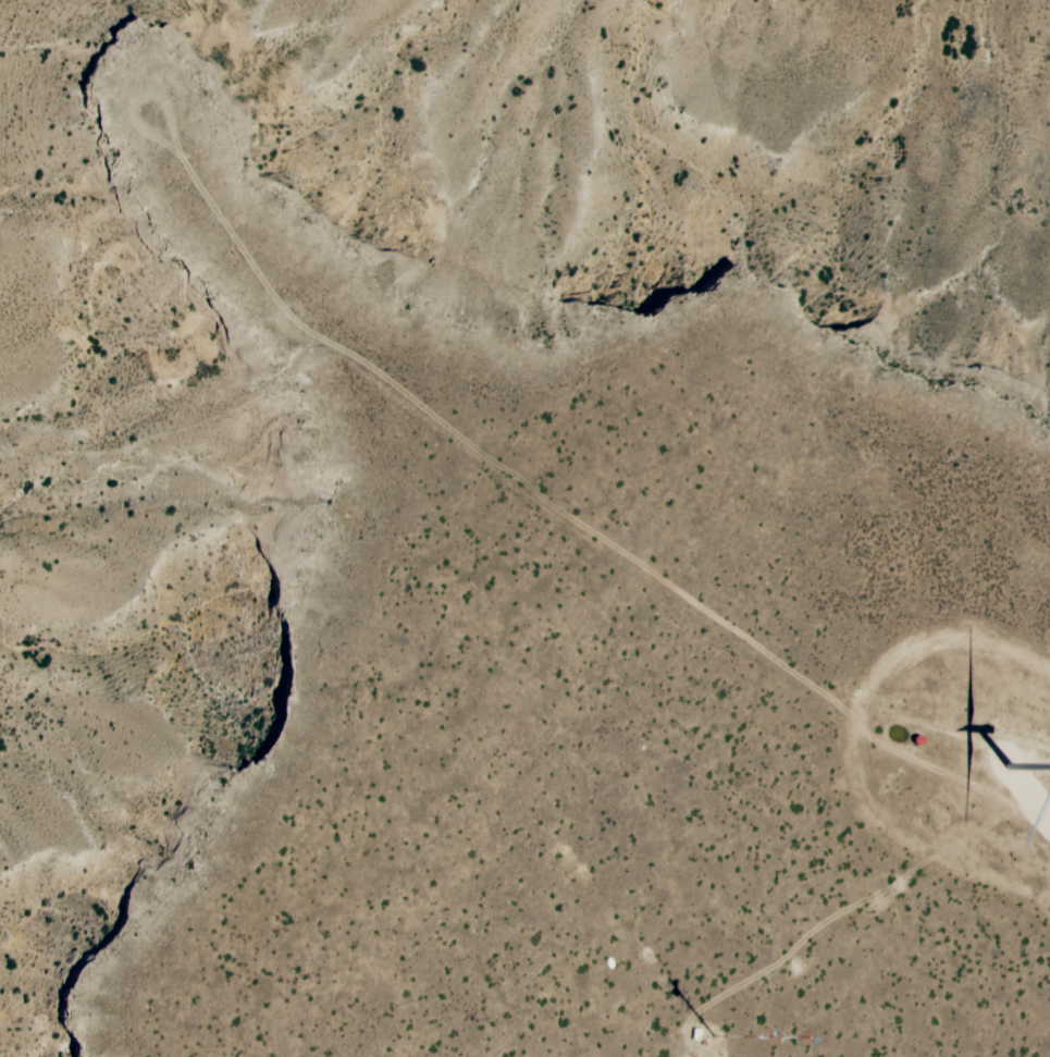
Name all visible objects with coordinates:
wind turbine: (1003, 762)
road: (1034, 797)

